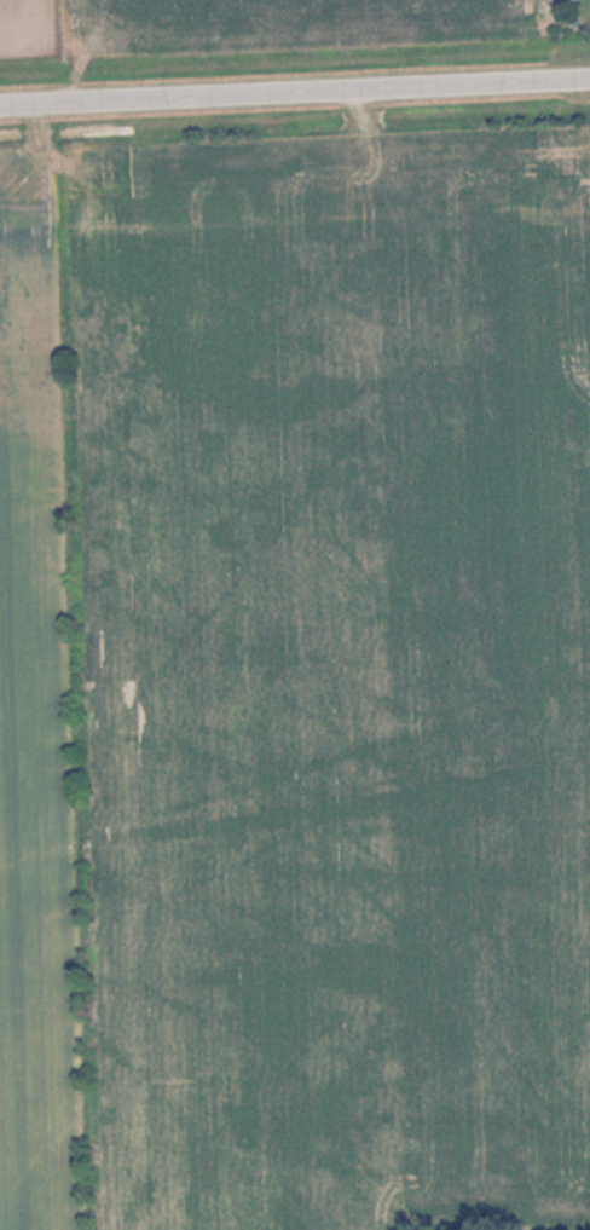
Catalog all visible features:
road: (295, 83)

